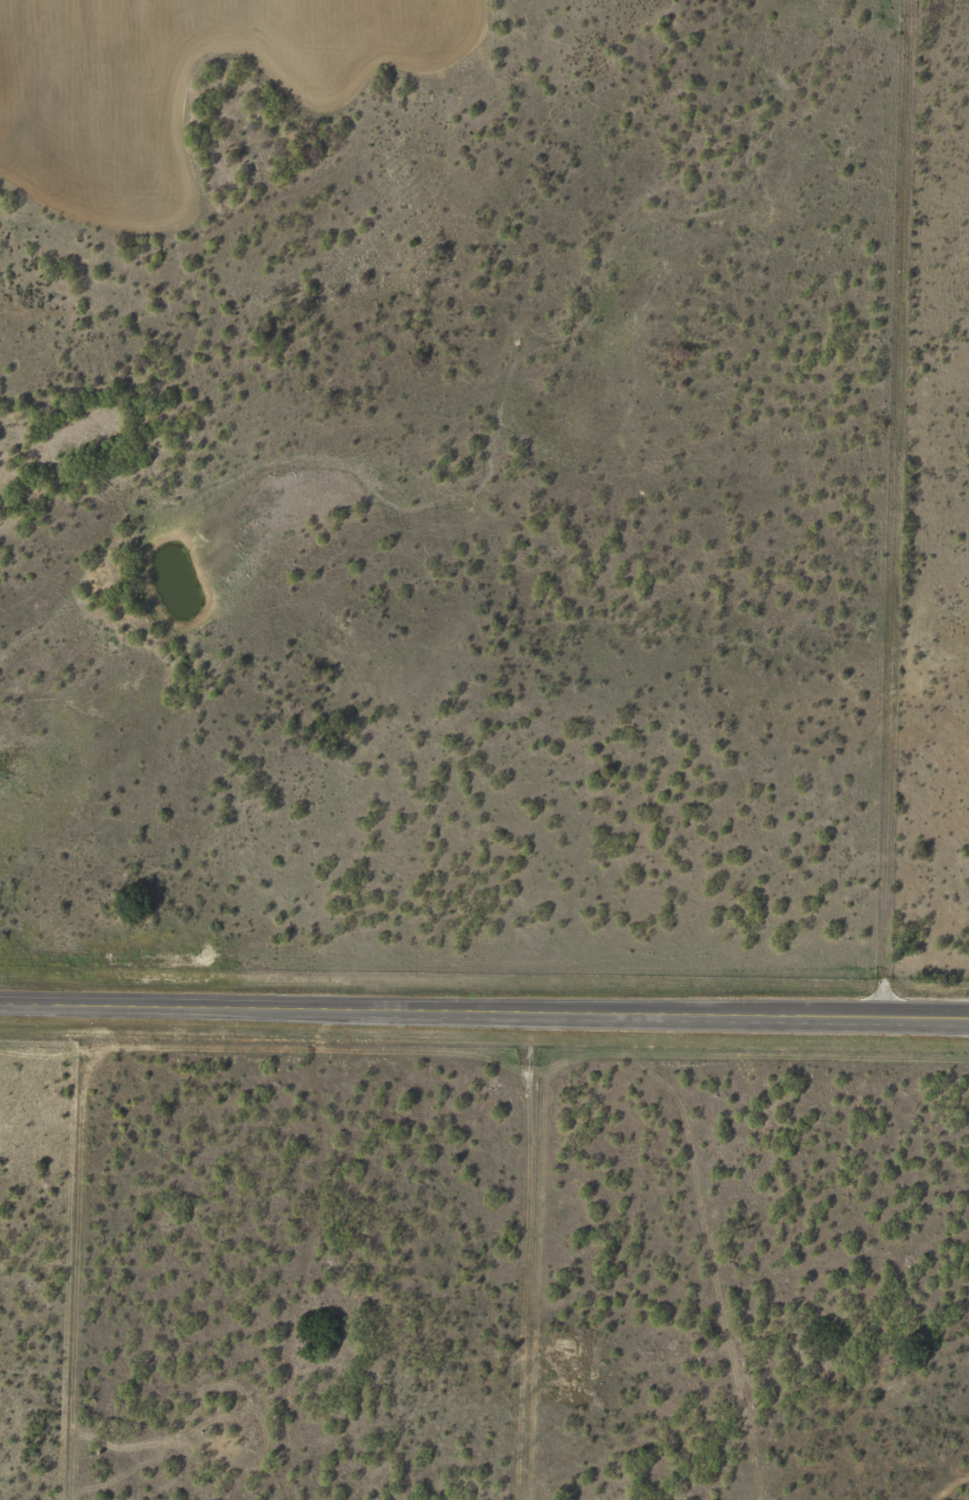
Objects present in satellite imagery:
road: (907, 511)
road: (484, 1014)
road: (332, 1255)

